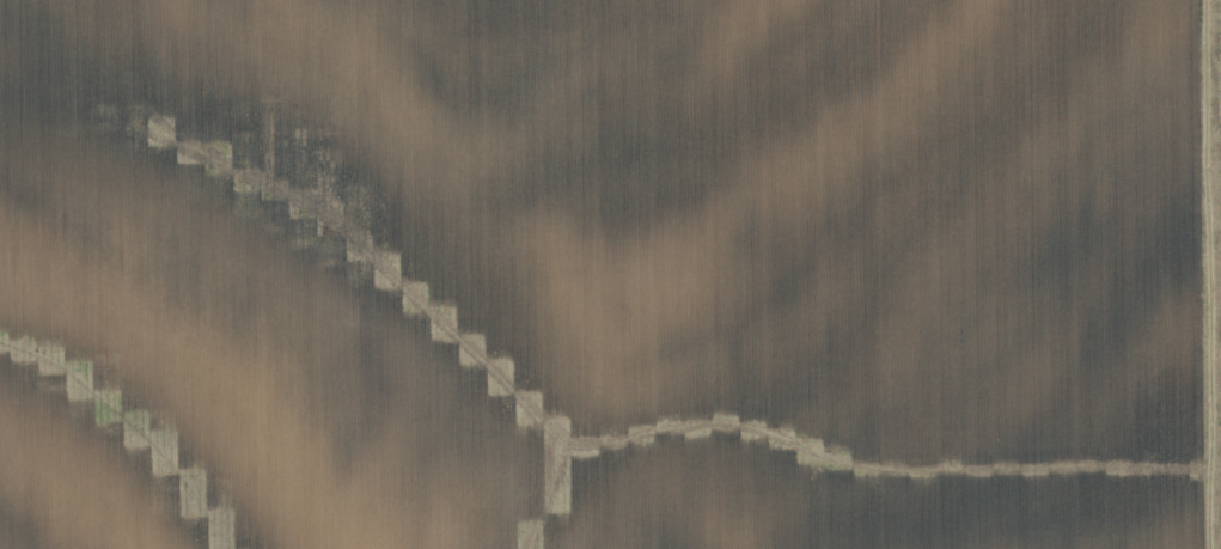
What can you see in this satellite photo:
road: (1219, 185)

